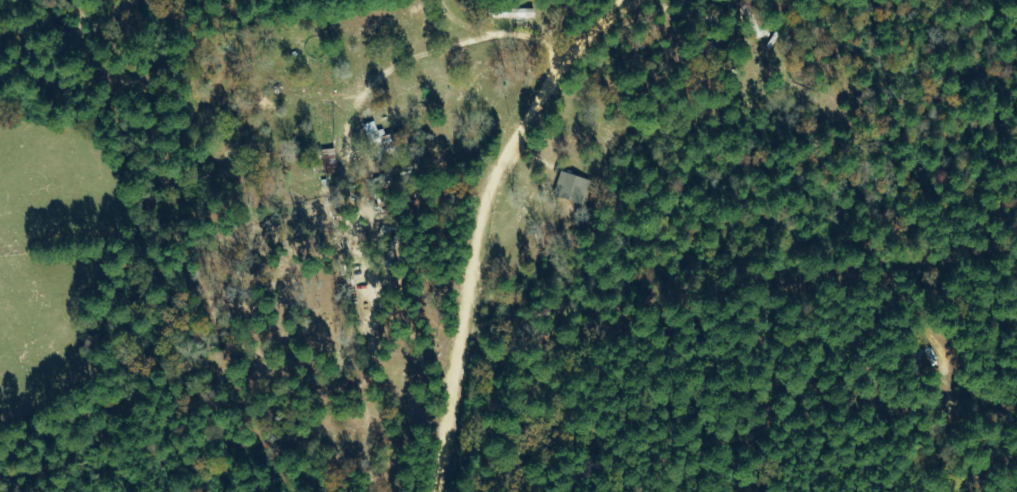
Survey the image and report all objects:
road: (541, 46)
building: (572, 188)
road: (500, 201)

